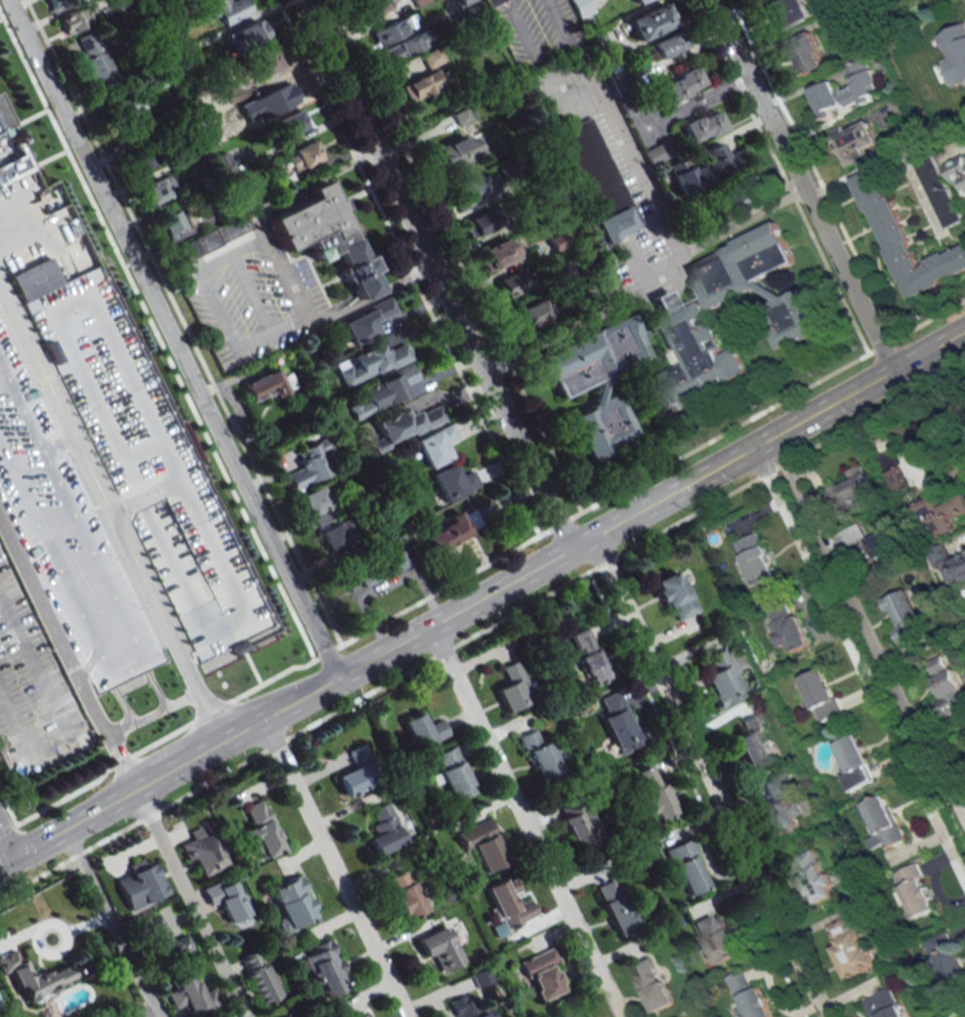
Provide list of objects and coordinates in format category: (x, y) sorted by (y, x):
building: (467, 1)
building: (638, 1)
building: (420, 2)
building: (118, 3)
building: (491, 3)
building: (60, 4)
building: (373, 7)
building: (581, 8)
building: (230, 11)
building: (787, 12)
building: (74, 20)
building: (650, 21)
road: (522, 28)
building: (395, 29)
building: (248, 35)
road: (565, 35)
building: (670, 45)
building: (406, 47)
building: (957, 52)
building: (805, 53)
building: (432, 57)
building: (96, 61)
building: (265, 61)
building: (684, 84)
building: (421, 85)
building: (633, 90)
building: (848, 90)
building: (279, 100)
building: (125, 106)
building: (292, 122)
building: (703, 126)
building: (135, 132)
building: (855, 142)
building: (10, 149)
building: (455, 152)
building: (660, 152)
building: (304, 156)
road: (631, 157)
building: (140, 160)
road: (359, 161)
building: (706, 168)
building: (956, 169)
building: (230, 182)
building: (596, 182)
road: (800, 184)
building: (159, 189)
building: (937, 190)
building: (472, 191)
building: (749, 191)
road: (741, 222)
building: (480, 223)
building: (171, 224)
building: (324, 234)
building: (64, 235)
building: (216, 236)
building: (905, 241)
building: (499, 253)
road: (271, 255)
road: (437, 272)
building: (565, 274)
road: (405, 280)
building: (517, 281)
building: (608, 286)
road: (366, 300)
building: (533, 313)
road: (592, 321)
building: (365, 322)
building: (687, 336)
road: (171, 337)
building: (372, 363)
building: (265, 386)
road: (944, 390)
building: (384, 392)
building: (406, 425)
building: (436, 445)
building: (144, 460)
parking garage: (144, 460)
building: (310, 465)
building: (895, 470)
building: (454, 482)
building: (851, 487)
building: (317, 506)
road: (111, 507)
building: (941, 514)
building: (452, 531)
building: (67, 536)
parking garage: (67, 536)
building: (335, 541)
building: (869, 545)
building: (756, 559)
building: (949, 564)
building: (378, 568)
road: (482, 594)
building: (674, 596)
road: (42, 601)
road: (865, 615)
building: (905, 615)
road: (496, 623)
building: (787, 627)
building: (589, 656)
building: (212, 659)
road: (856, 668)
building: (721, 679)
building: (514, 687)
parking lot: (32, 688)
building: (948, 688)
building: (821, 695)
road: (59, 712)
road: (97, 712)
road: (156, 712)
building: (619, 724)
building: (423, 729)
building: (751, 742)
building: (539, 753)
road: (122, 760)
building: (855, 763)
building: (357, 772)
building: (453, 773)
road: (707, 775)
building: (653, 793)
building: (782, 804)
road: (522, 819)
building: (574, 821)
building: (883, 823)
building: (384, 829)
building: (261, 831)
road: (7, 838)
building: (483, 845)
traffic signals: (14, 853)
building: (202, 853)
road: (333, 866)
building: (686, 867)
building: (815, 877)
building: (139, 885)
road: (13, 888)
building: (915, 890)
building: (404, 894)
building: (225, 898)
road: (188, 901)
building: (292, 903)
building: (510, 903)
building: (616, 907)
road: (111, 921)
building: (717, 940)
building: (162, 942)
building: (850, 947)
building: (439, 948)
building: (946, 956)
building: (324, 968)
building: (57, 973)
building: (542, 974)
building: (258, 977)
building: (651, 983)
building: (191, 996)
building: (749, 996)
building: (885, 1004)
building: (466, 1007)
road: (145, 1011)
building: (576, 1014)
building: (286, 1016)
building: (363, 1016)

